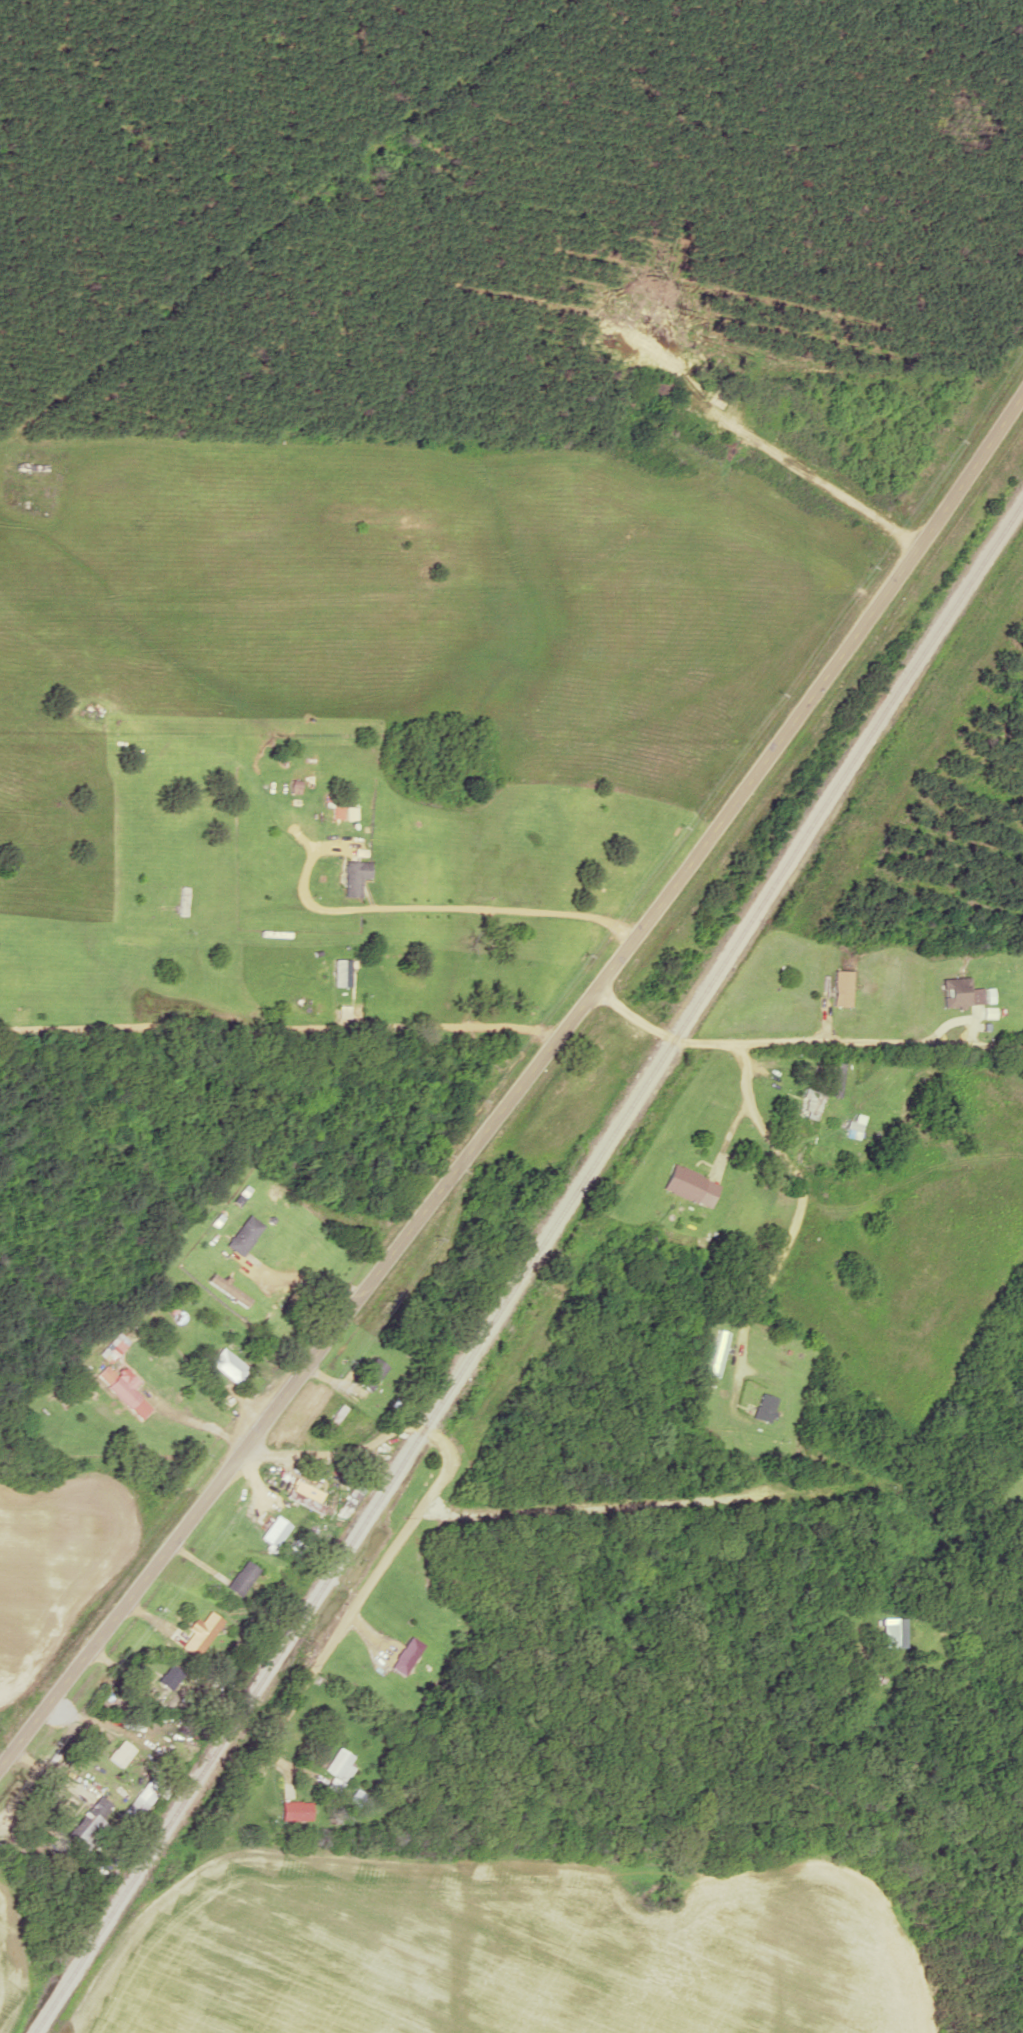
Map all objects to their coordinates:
building: (656, 392)
building: (28, 466)
road: (814, 693)
building: (338, 811)
building: (354, 876)
building: (181, 900)
building: (340, 972)
building: (841, 987)
building: (955, 991)
road: (800, 1039)
building: (836, 1075)
building: (809, 1103)
building: (690, 1185)
building: (243, 1234)
railway: (526, 1262)
building: (228, 1289)
building: (716, 1353)
building: (227, 1366)
building: (371, 1373)
road: (295, 1375)
building: (122, 1389)
building: (763, 1407)
building: (333, 1418)
building: (303, 1500)
road: (422, 1503)
building: (272, 1530)
building: (239, 1577)
building: (903, 1631)
building: (199, 1633)
building: (405, 1655)
building: (168, 1676)
building: (119, 1753)
building: (337, 1769)
building: (133, 1808)
building: (294, 1810)
building: (88, 1824)

